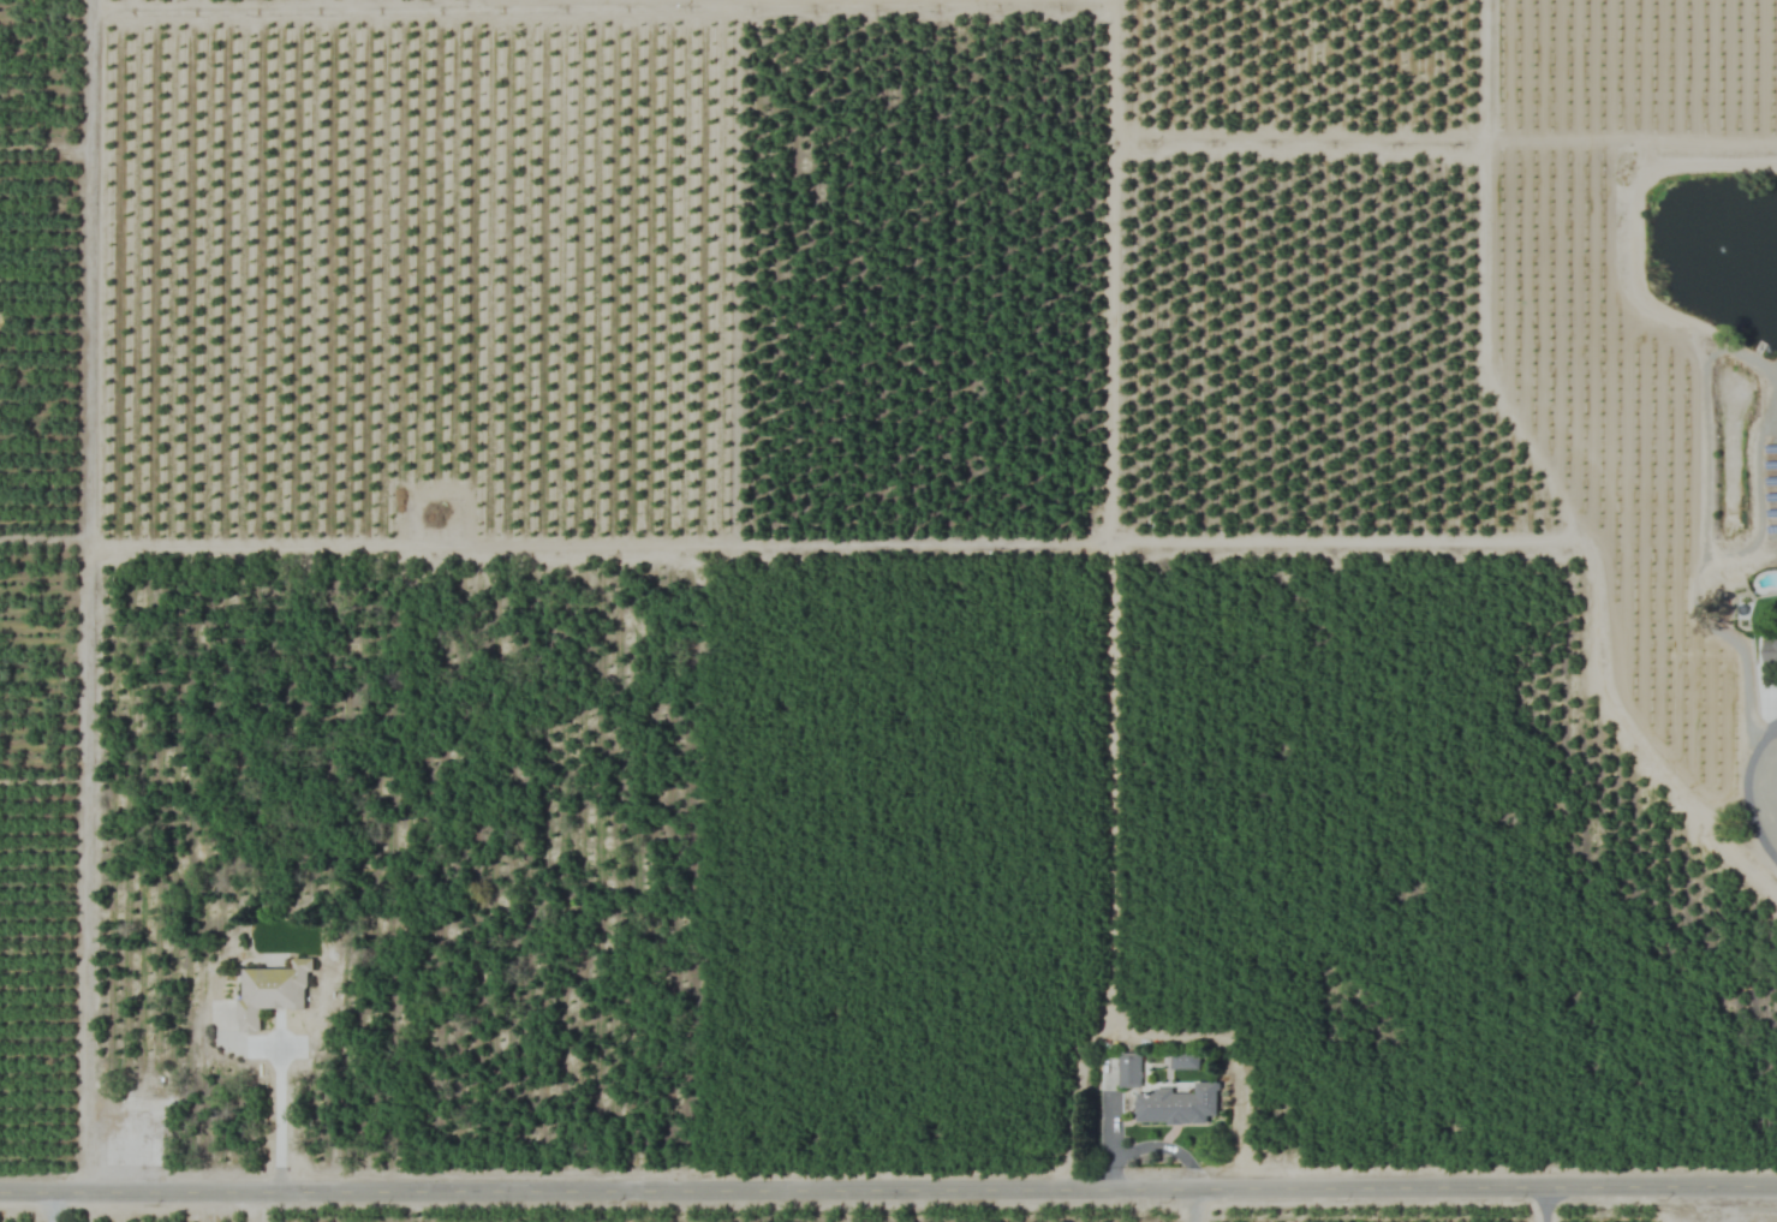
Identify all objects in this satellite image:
road: (89, 600)
building: (1773, 651)
road: (1747, 783)
building: (270, 992)
building: (1185, 1061)
building: (1127, 1069)
building: (1177, 1104)
road: (279, 1115)
road: (888, 1194)
road: (1540, 1206)
road: (50, 1210)

